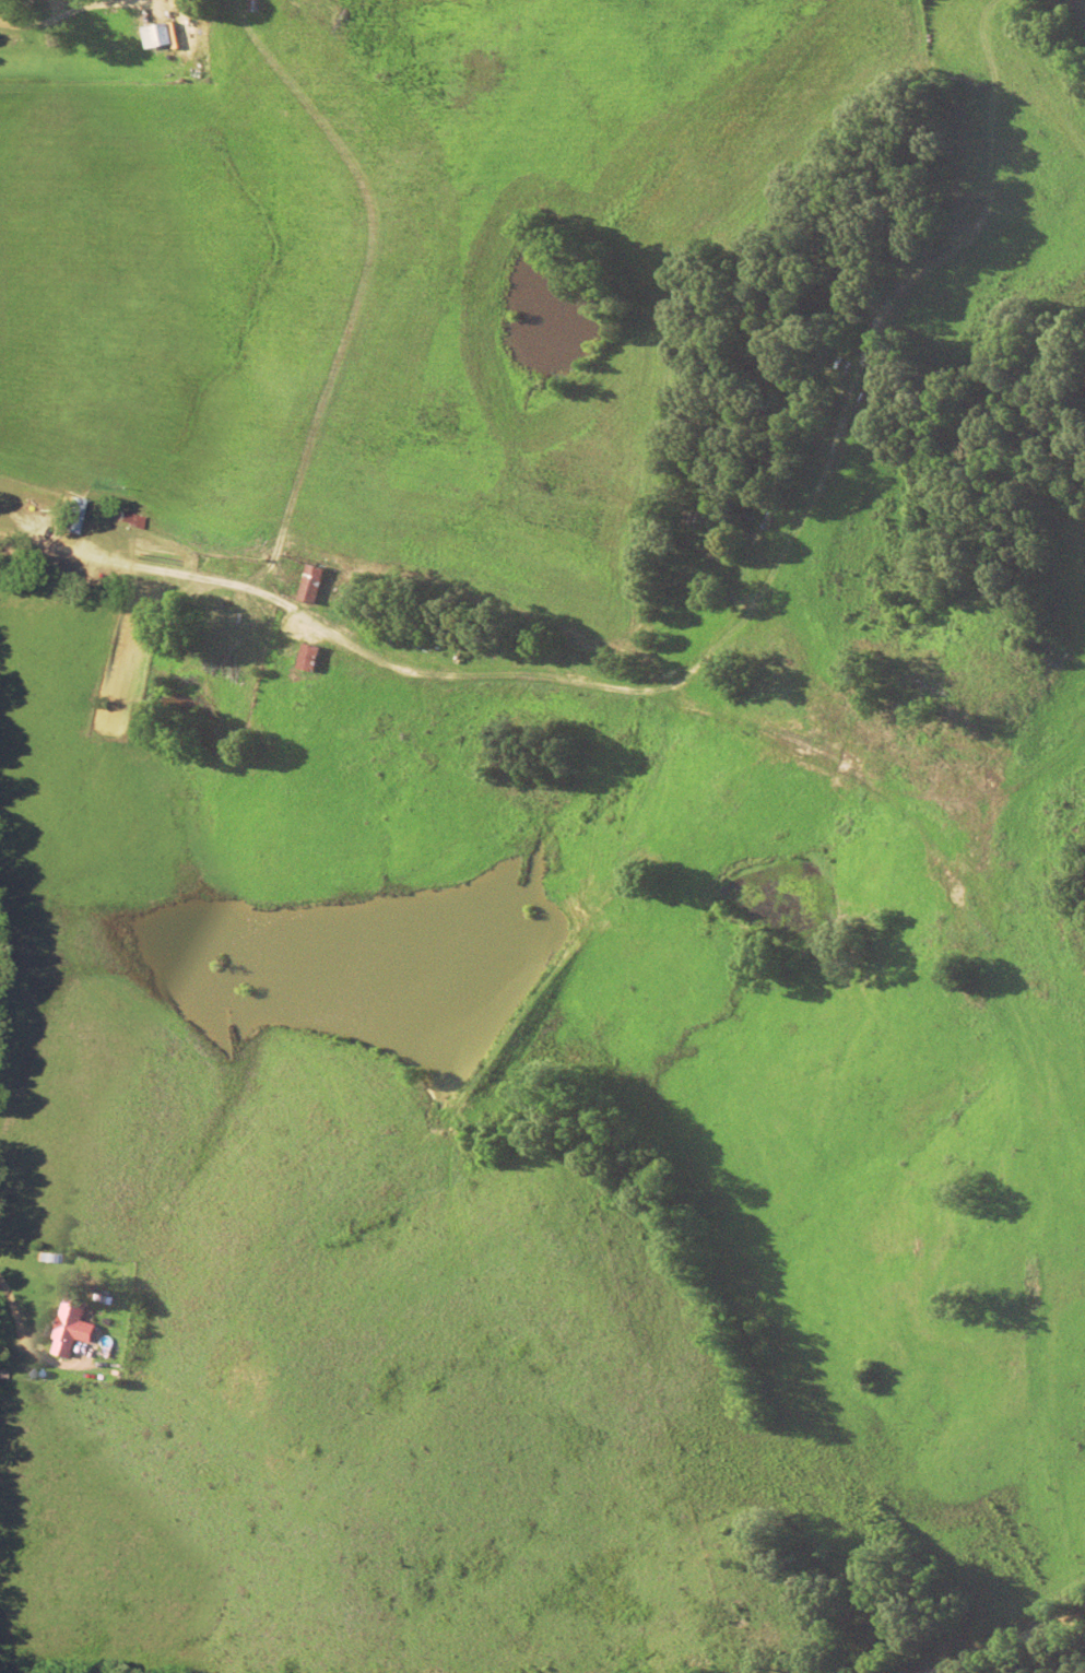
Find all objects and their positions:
building: (158, 35)
building: (835, 362)
building: (132, 519)
building: (309, 584)
building: (306, 658)
building: (68, 1327)
road: (957, 1630)

